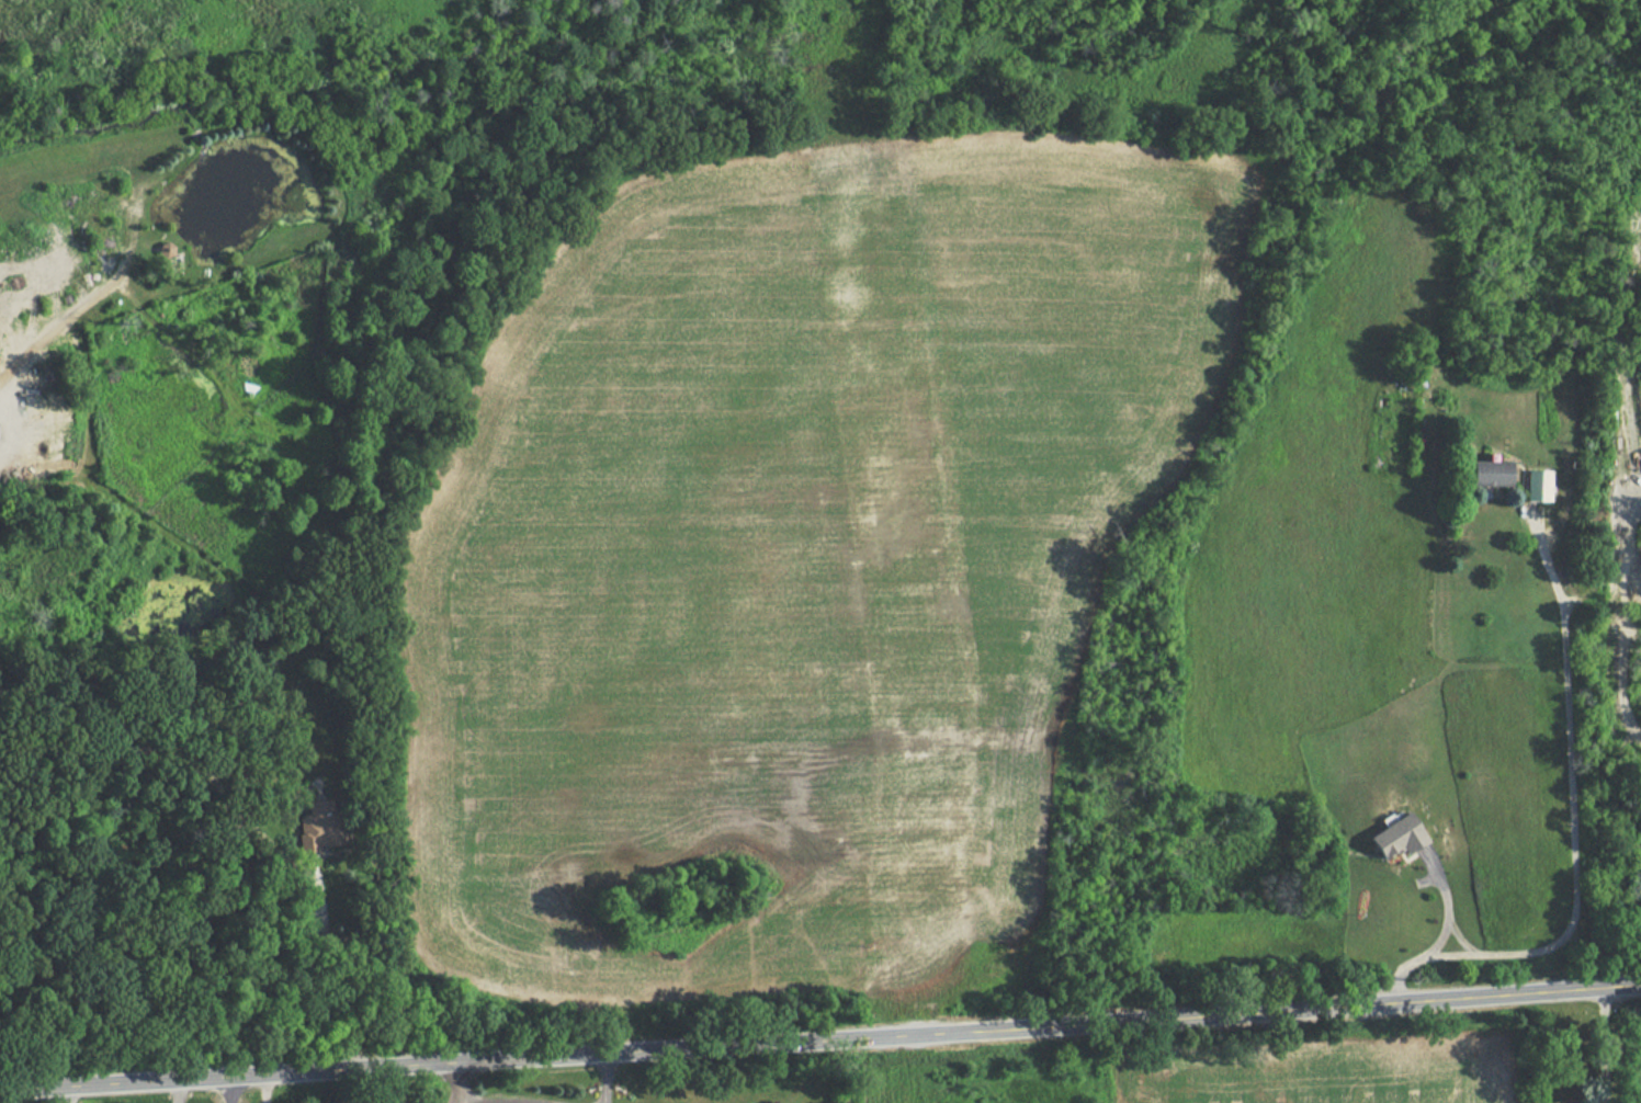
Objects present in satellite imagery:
building: (1486, 474)
building: (1535, 486)
crop: (795, 564)
building: (329, 825)
road: (1574, 829)
road: (1450, 908)
road: (1467, 934)
road: (333, 979)
road: (820, 1039)
road: (1603, 1043)
road: (606, 1079)
road: (452, 1083)
crop: (1210, 1083)
road: (263, 1089)
road: (229, 1090)
road: (177, 1092)
road: (70, 1095)

